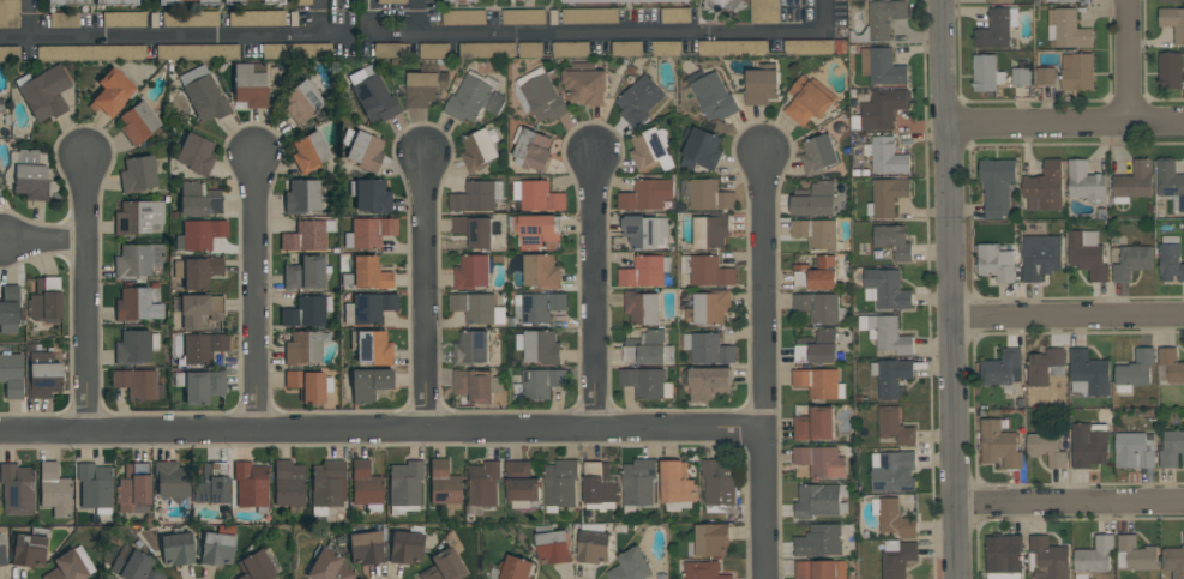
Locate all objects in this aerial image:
building: (530, 0)
building: (576, 0)
building: (998, 0)
building: (1060, 0)
building: (1171, 0)
building: (390, 1)
parking lot: (391, 1)
building: (456, 1)
building: (474, 1)
building: (638, 1)
building: (66, 2)
building: (169, 2)
building: (206, 2)
building: (302, 2)
parking lot: (302, 2)
building: (617, 2)
building: (684, 2)
building: (116, 4)
building: (233, 4)
building: (275, 4)
building: (723, 5)
building: (764, 11)
parking lot: (765, 11)
building: (8, 14)
parking lot: (10, 14)
building: (675, 14)
parking lot: (677, 14)
building: (523, 16)
building: (589, 16)
parking lot: (590, 16)
building: (463, 17)
parking lot: (464, 17)
parking lot: (523, 17)
building: (256, 18)
road: (318, 18)
road: (416, 18)
road: (31, 19)
building: (124, 19)
parking lot: (125, 19)
building: (190, 19)
parking lot: (191, 19)
parking lot: (257, 19)
building: (64, 20)
parking lot: (64, 20)
building: (881, 20)
building: (1173, 20)
building: (997, 28)
building: (1066, 29)
road: (596, 35)
road: (176, 37)
building: (809, 46)
building: (732, 47)
parking lot: (734, 47)
parking lot: (810, 47)
building: (626, 48)
parking lot: (627, 48)
building: (667, 48)
parking lot: (667, 48)
building: (487, 49)
parking lot: (531, 49)
building: (571, 49)
parking lot: (572, 49)
building: (390, 50)
parking lot: (392, 50)
parking lot: (435, 50)
parking lot: (488, 50)
building: (196, 52)
building: (292, 52)
parking lot: (297, 52)
building: (90, 53)
parking lot: (198, 53)
building: (8, 54)
parking lot: (10, 54)
parking lot: (91, 54)
road: (1132, 60)
building: (883, 66)
building: (1170, 70)
building: (1077, 71)
building: (986, 73)
building: (1021, 76)
building: (1046, 76)
building: (587, 83)
building: (425, 84)
building: (762, 85)
building: (250, 86)
building: (44, 92)
building: (113, 92)
building: (203, 94)
building: (711, 94)
building: (372, 95)
building: (540, 95)
building: (474, 97)
building: (638, 99)
building: (809, 99)
building: (301, 102)
building: (1, 105)
building: (881, 109)
road: (1064, 121)
building: (138, 123)
building: (479, 149)
building: (531, 149)
building: (701, 149)
building: (362, 150)
building: (650, 150)
building: (308, 152)
building: (818, 153)
building: (194, 155)
building: (887, 155)
building: (138, 174)
building: (30, 175)
building: (1170, 180)
building: (1086, 182)
building: (1134, 182)
building: (997, 185)
building: (0, 186)
building: (1045, 186)
building: (647, 194)
building: (709, 194)
building: (371, 195)
building: (476, 195)
building: (537, 195)
building: (887, 195)
building: (301, 197)
building: (198, 199)
building: (816, 199)
building: (139, 218)
building: (536, 229)
building: (476, 230)
building: (711, 230)
building: (645, 231)
building: (368, 233)
building: (816, 233)
building: (199, 234)
building: (307, 236)
building: (894, 240)
road: (42, 245)
building: (1088, 253)
building: (1040, 255)
building: (1170, 258)
building: (138, 259)
building: (996, 261)
building: (1131, 261)
building: (707, 270)
building: (197, 271)
building: (473, 271)
building: (542, 271)
building: (644, 271)
building: (303, 273)
building: (816, 273)
building: (367, 275)
road: (597, 287)
building: (887, 289)
road: (950, 289)
road: (423, 290)
road: (254, 291)
building: (46, 297)
road: (85, 297)
building: (138, 306)
building: (368, 307)
building: (536, 307)
building: (642, 307)
building: (709, 307)
building: (821, 307)
building: (197, 308)
building: (477, 308)
building: (8, 309)
building: (306, 312)
road: (1068, 315)
building: (887, 333)
building: (539, 345)
building: (134, 346)
building: (202, 348)
building: (371, 348)
building: (471, 348)
building: (708, 348)
building: (818, 348)
building: (302, 349)
building: (648, 349)
road: (763, 361)
building: (1045, 366)
building: (1170, 366)
building: (1002, 368)
building: (1135, 369)
building: (1088, 373)
building: (11, 375)
building: (42, 375)
building: (891, 375)
building: (645, 381)
building: (541, 382)
building: (709, 382)
building: (819, 382)
building: (137, 384)
building: (368, 384)
building: (476, 384)
building: (199, 385)
building: (308, 385)
building: (815, 423)
building: (895, 426)
road: (381, 430)
building: (1089, 444)
building: (999, 445)
building: (1172, 447)
building: (1046, 448)
building: (1134, 450)
building: (819, 460)
building: (892, 471)
building: (170, 481)
building: (638, 482)
building: (521, 483)
building: (560, 483)
building: (212, 484)
building: (251, 485)
building: (288, 485)
building: (327, 485)
building: (366, 485)
building: (482, 485)
building: (599, 485)
building: (677, 485)
building: (719, 485)
building: (95, 487)
building: (404, 487)
building: (443, 487)
building: (16, 489)
building: (133, 489)
building: (54, 490)
building: (818, 500)
road: (1070, 502)
building: (892, 517)
building: (709, 541)
building: (819, 541)
building: (594, 543)
building: (553, 544)
building: (217, 547)
building: (29, 548)
building: (365, 548)
building: (405, 548)
building: (176, 549)
building: (1, 551)
building: (1136, 554)
building: (1004, 556)
building: (1094, 556)
building: (896, 557)
building: (1047, 559)
building: (1174, 560)
building: (133, 565)
building: (70, 566)
building: (444, 566)
building: (631, 566)
building: (254, 567)
building: (327, 567)
building: (516, 568)
building: (819, 568)
building: (704, 569)

